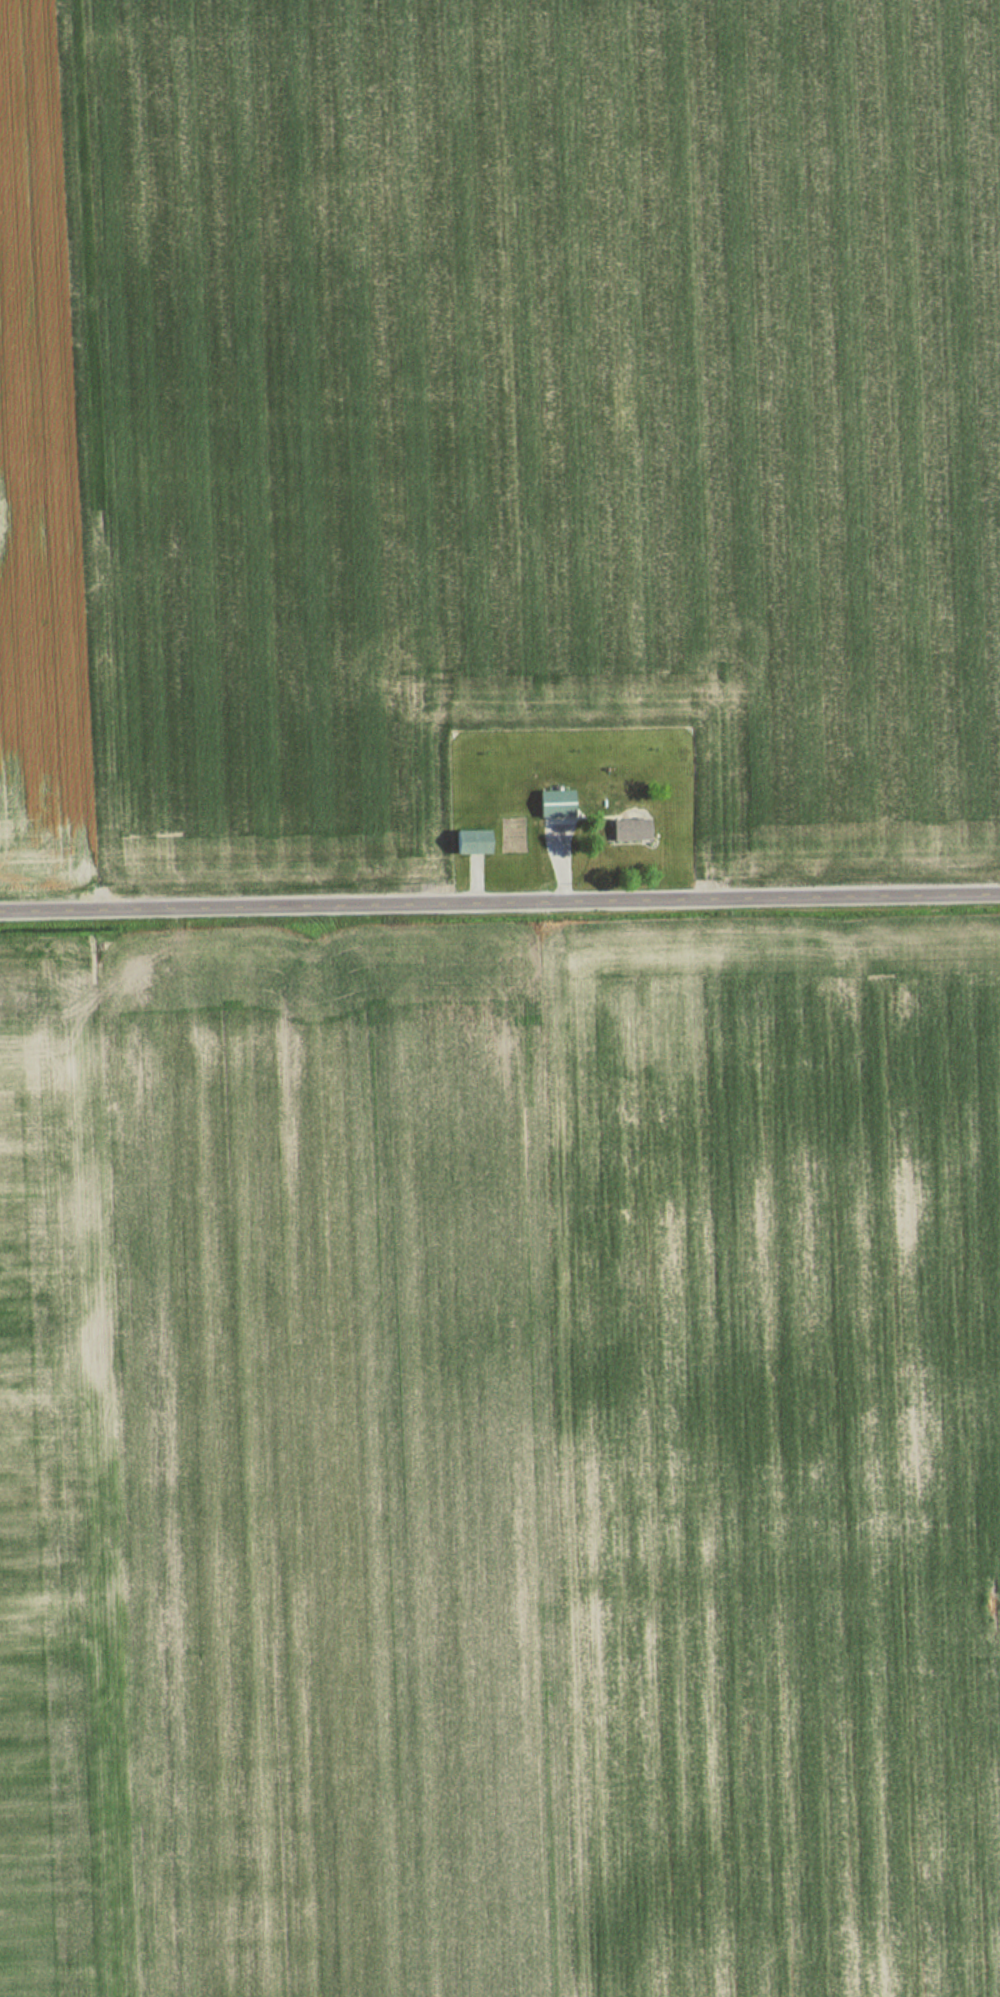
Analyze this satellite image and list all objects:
crop: (496, 420)
building: (547, 802)
road: (499, 901)
crop: (559, 1464)
crop: (59, 1518)

